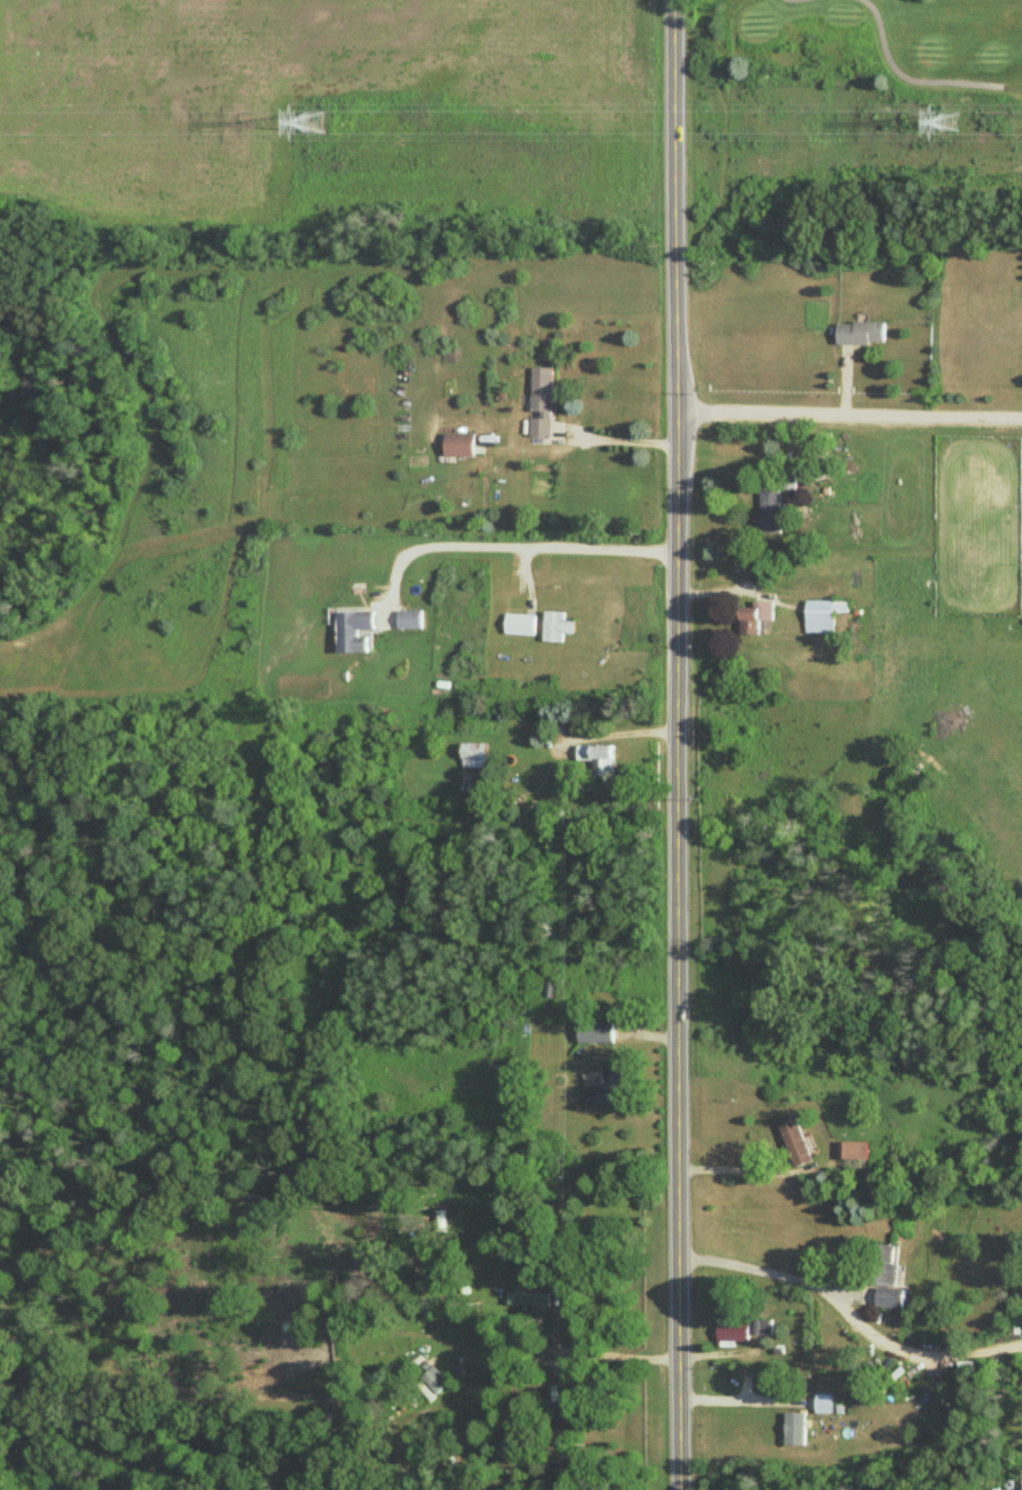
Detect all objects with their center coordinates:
park: (854, 62)
power tower: (315, 127)
power tower: (958, 130)
building: (860, 335)
building: (540, 403)
road: (849, 414)
road: (617, 439)
building: (457, 447)
building: (769, 513)
road: (512, 546)
building: (823, 616)
building: (756, 619)
building: (409, 621)
building: (520, 625)
building: (556, 627)
building: (353, 632)
road: (623, 734)
road: (677, 745)
building: (474, 756)
building: (599, 760)
building: (551, 991)
building: (596, 1033)
building: (603, 1090)
building: (796, 1144)
building: (853, 1151)
building: (880, 1266)
building: (890, 1299)
road: (849, 1317)
building: (743, 1331)
road: (600, 1357)
building: (435, 1381)
road: (741, 1403)
building: (825, 1404)
building: (796, 1429)

